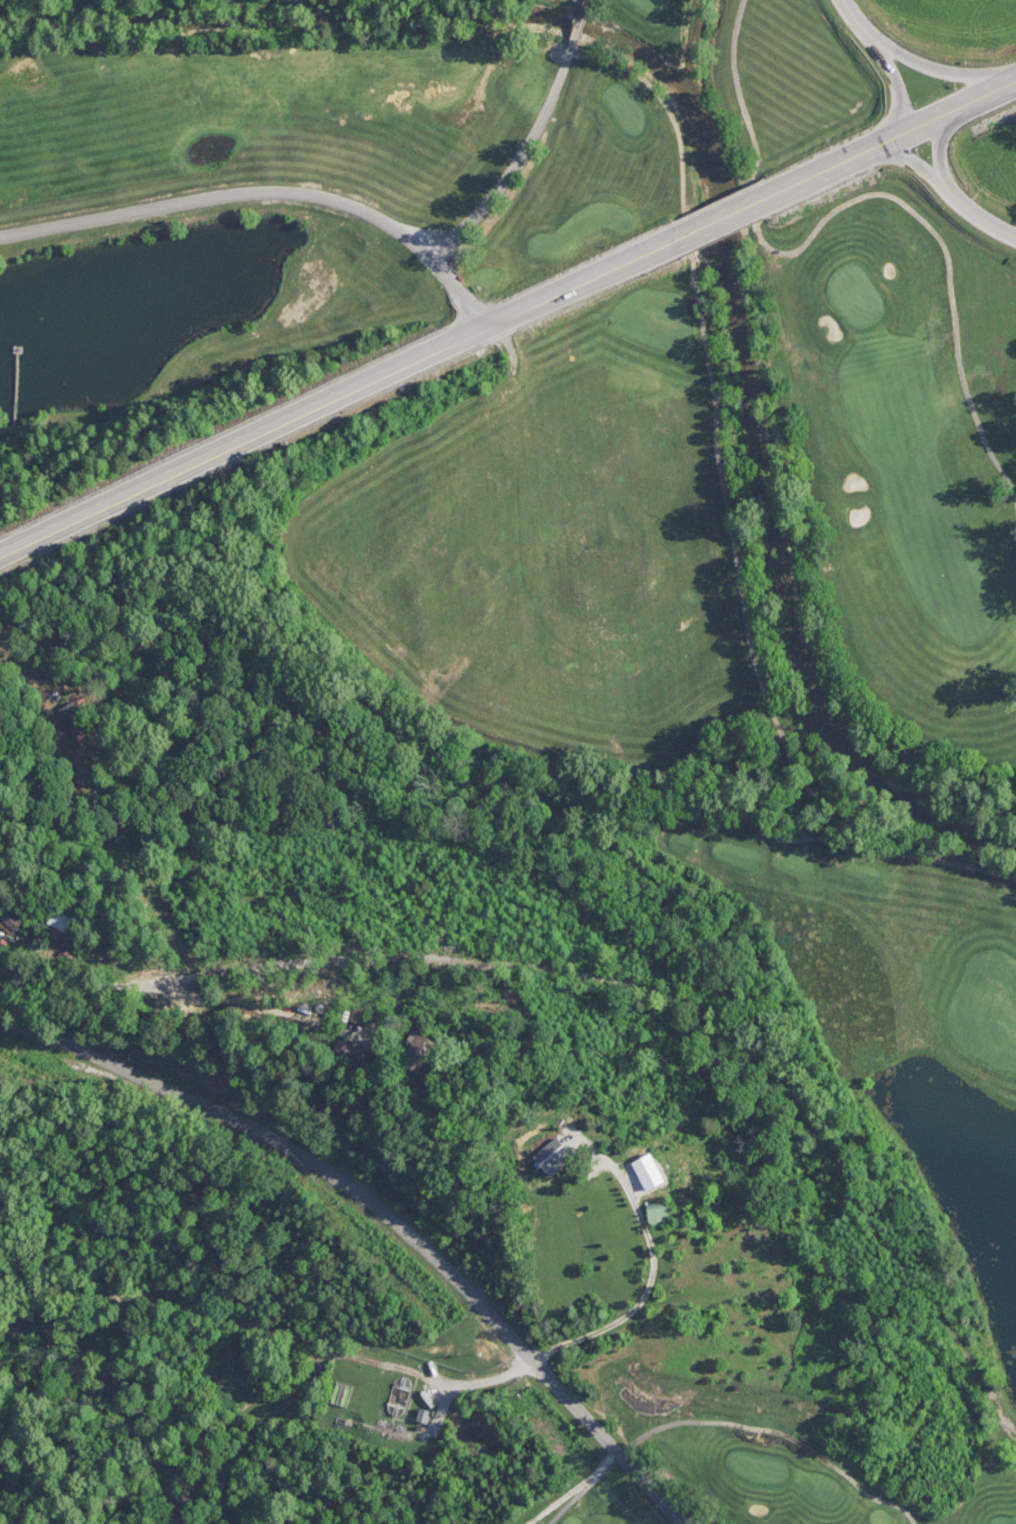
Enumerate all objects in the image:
road: (864, 26)
road: (945, 74)
road: (901, 95)
road: (661, 97)
road: (953, 110)
road: (951, 125)
road: (529, 139)
road: (921, 166)
park: (339, 167)
road: (266, 191)
road: (778, 192)
road: (870, 195)
road: (981, 217)
road: (332, 399)
road: (754, 660)
road: (28, 677)
park: (775, 696)
building: (73, 718)
building: (15, 923)
building: (68, 923)
road: (150, 987)
building: (357, 1019)
building: (351, 1051)
building: (419, 1052)
building: (369, 1056)
building: (553, 1148)
building: (636, 1176)
road: (350, 1182)
building: (661, 1213)
road: (648, 1289)
road: (490, 1380)
building: (423, 1413)
road: (729, 1422)
road: (656, 1490)
park: (584, 1501)

